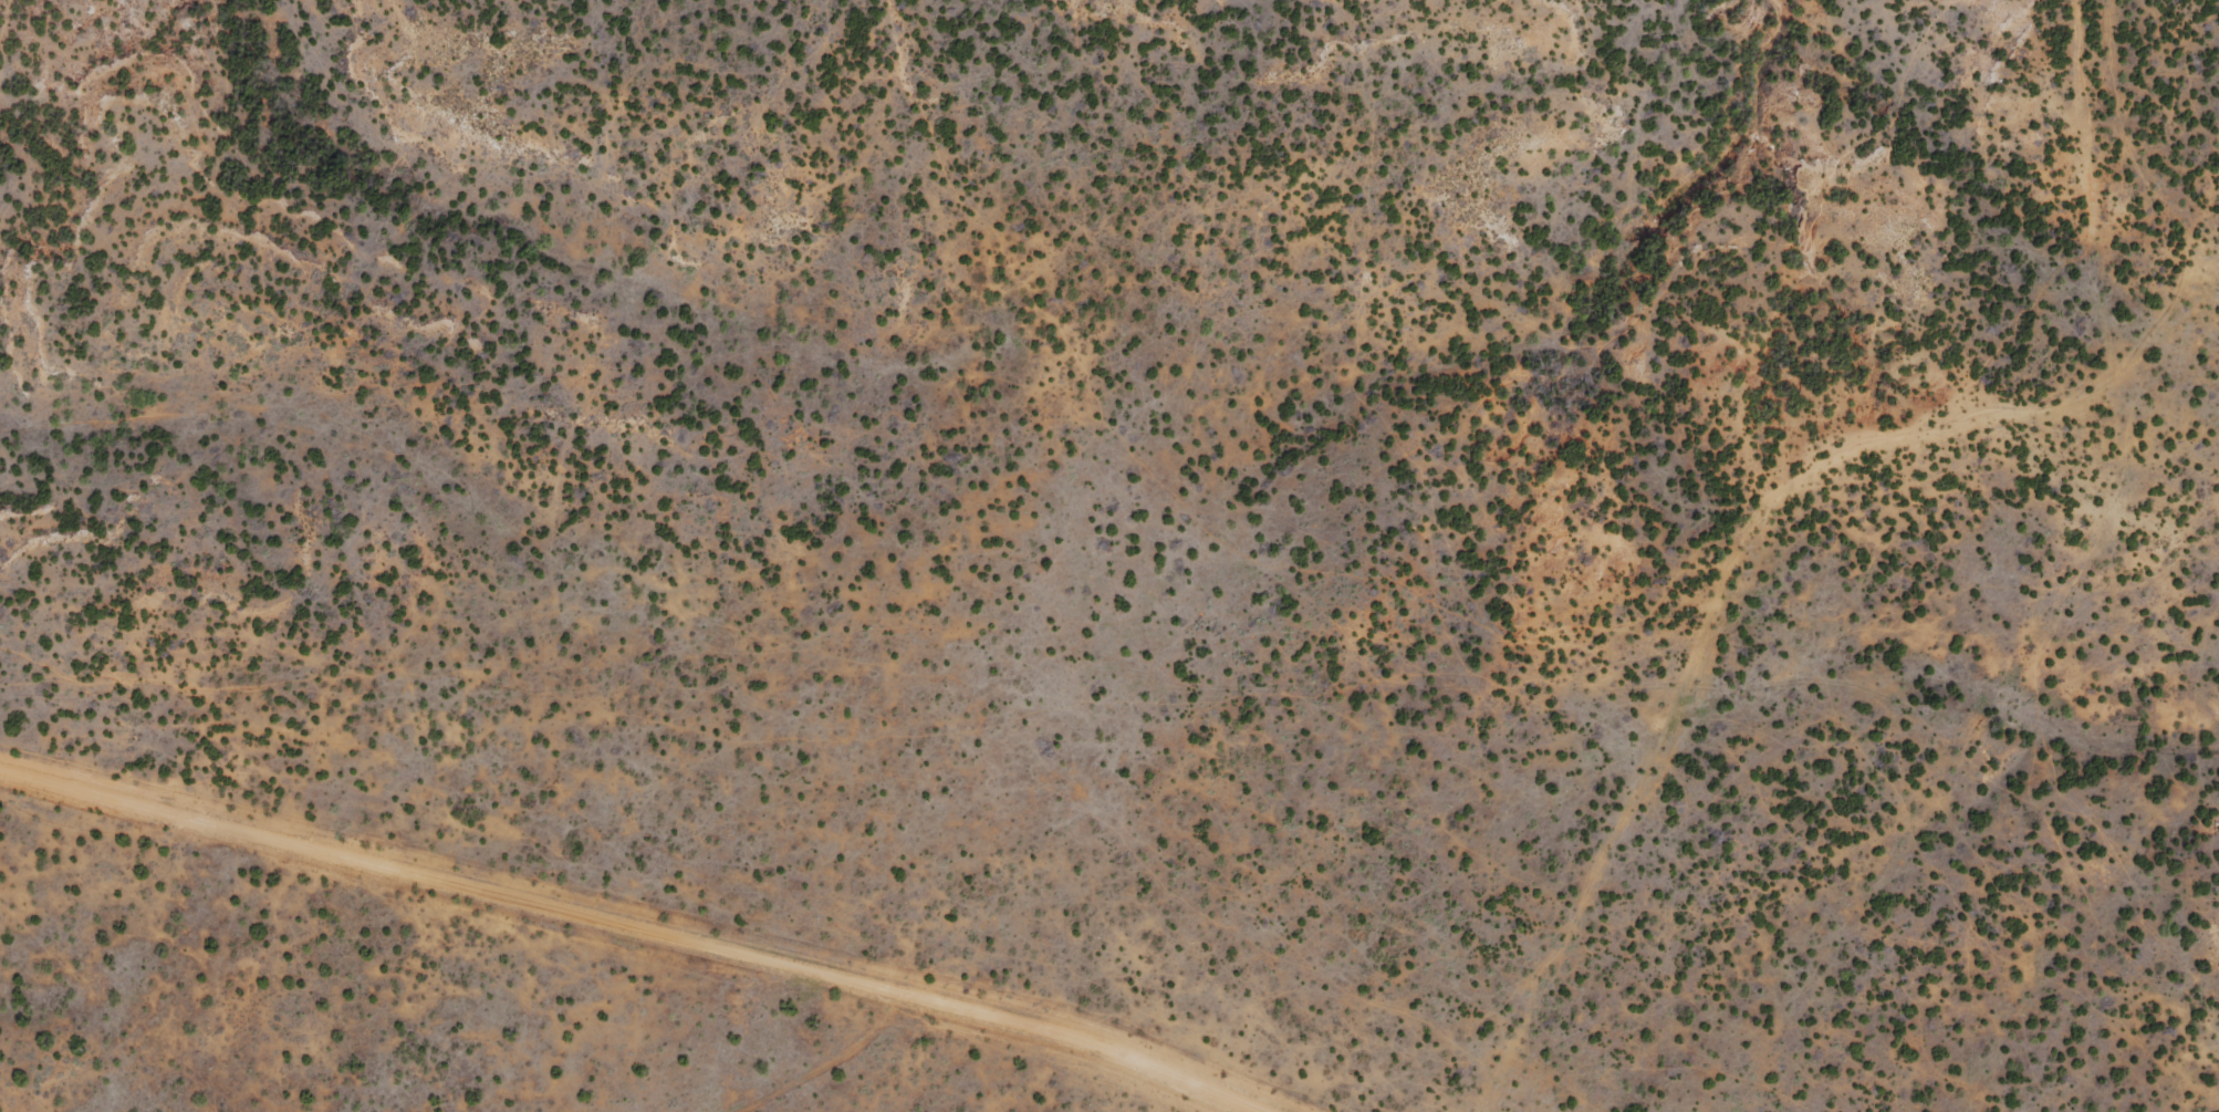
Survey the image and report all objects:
road: (625, 929)

